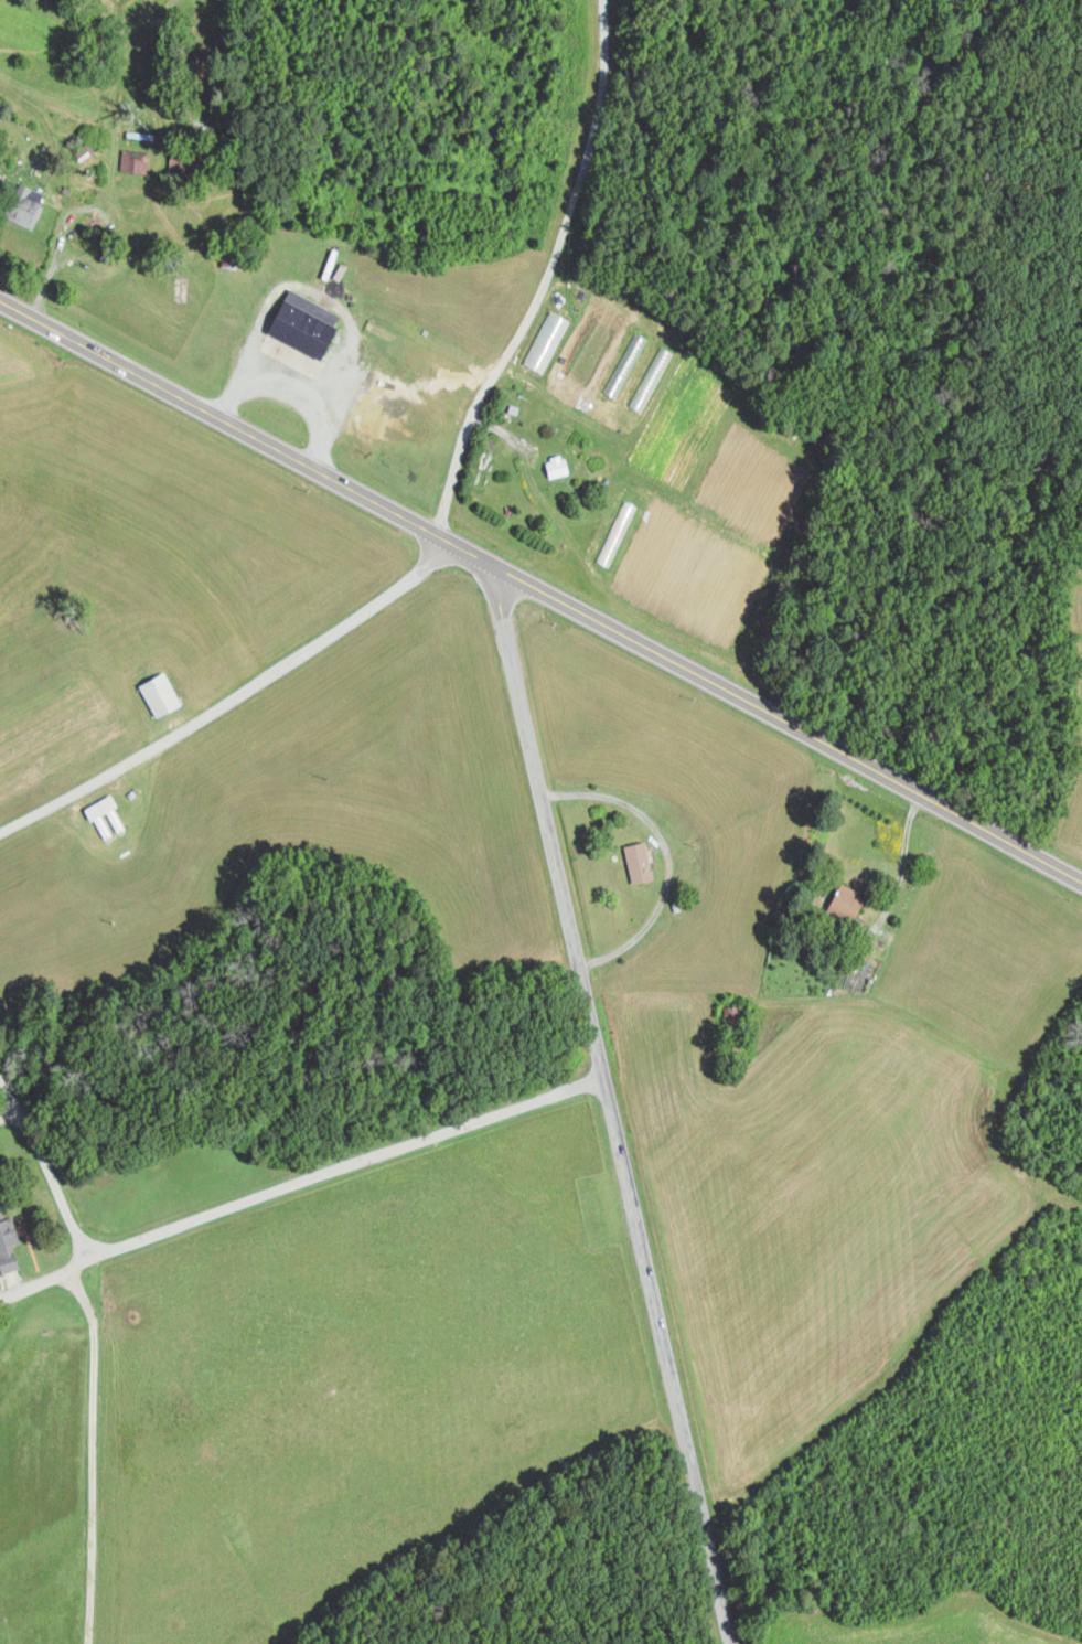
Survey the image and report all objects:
building: (136, 160)
building: (2, 182)
building: (31, 206)
road: (53, 270)
road: (547, 275)
building: (310, 323)
building: (559, 466)
road: (542, 589)
building: (163, 694)
road: (232, 697)
road: (664, 852)
building: (642, 861)
road: (902, 864)
river: (41, 1049)
river: (0, 1056)
road: (611, 1103)
road: (8, 1111)
road: (41, 1154)
road: (333, 1171)
building: (9, 1241)
road: (45, 1281)
road: (93, 1454)

